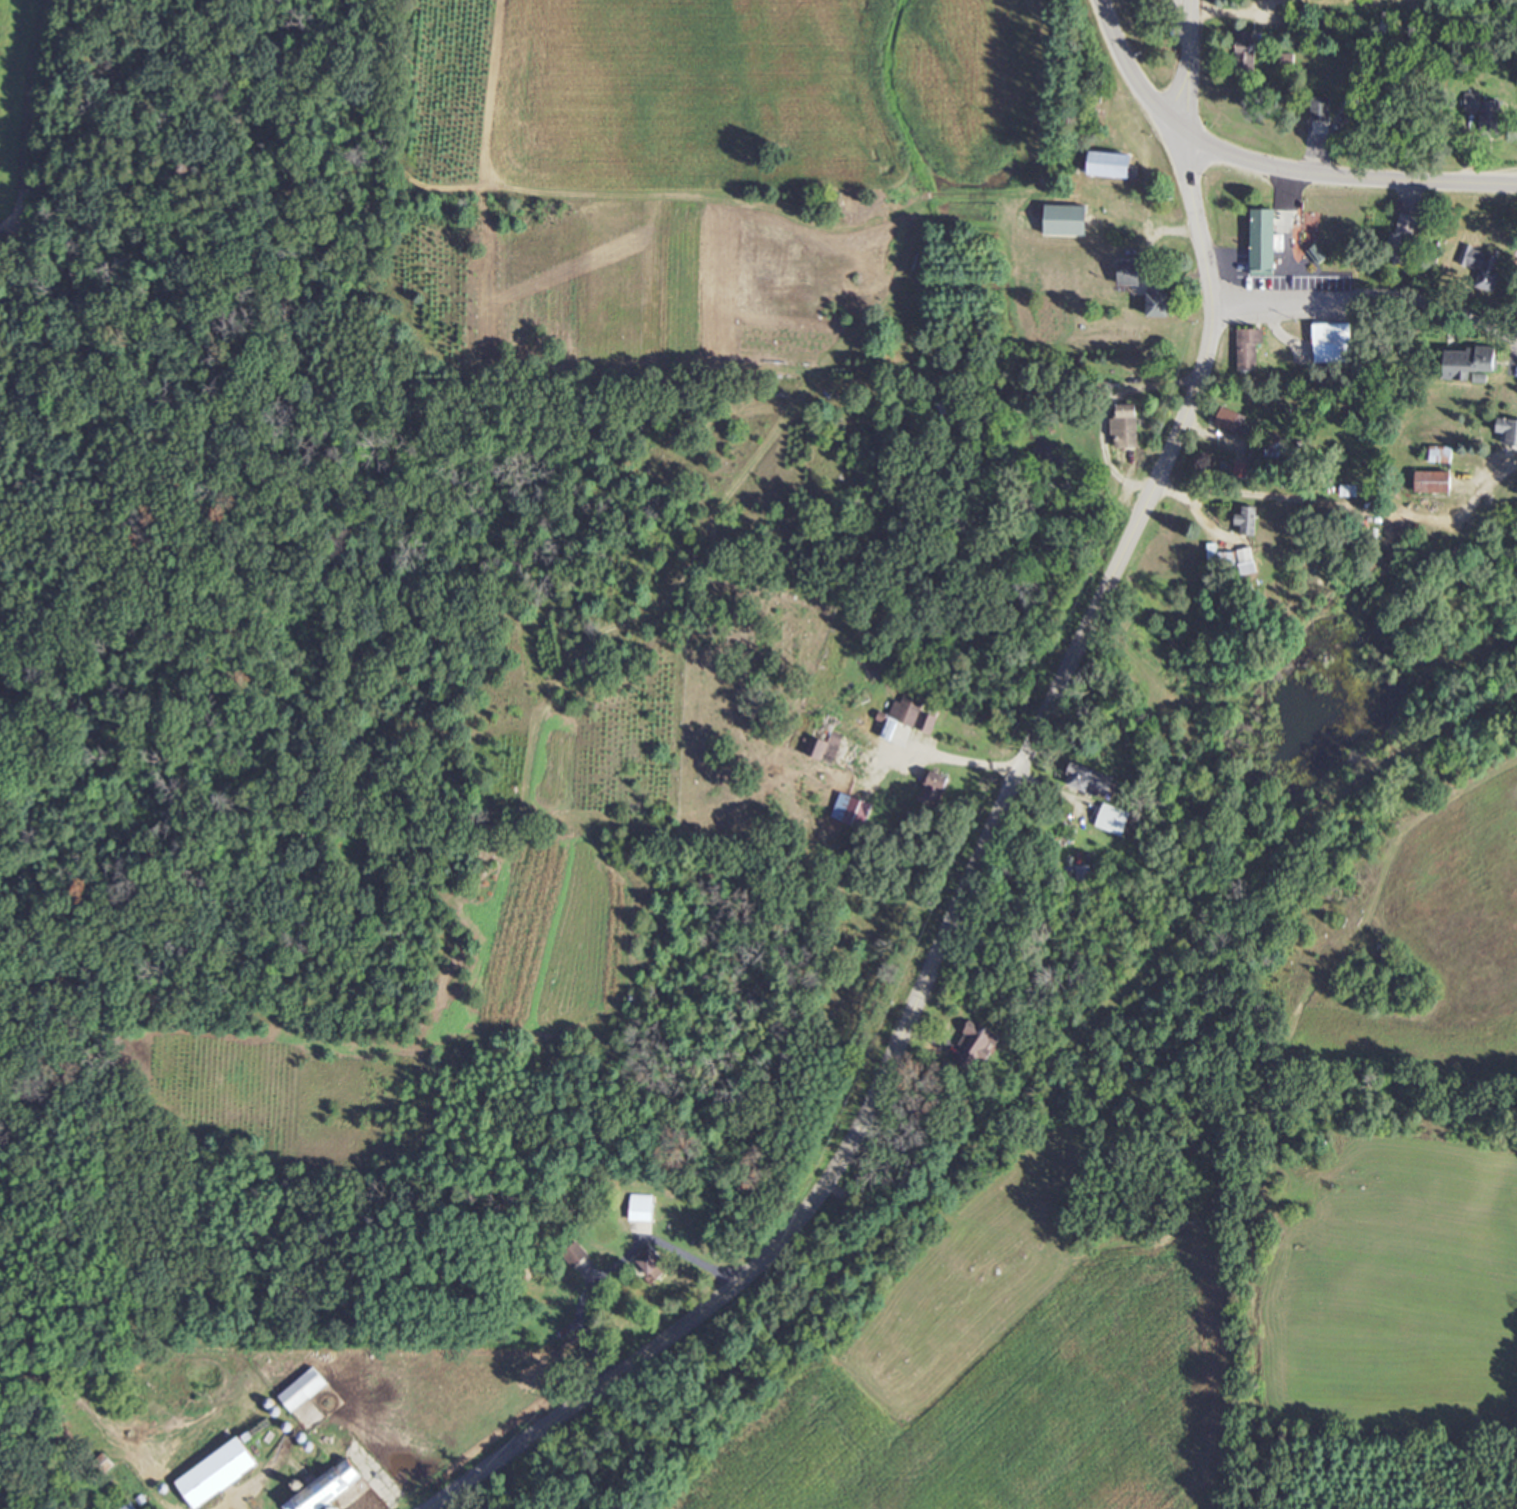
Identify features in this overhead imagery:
building: (1242, 50)
building: (1284, 59)
road: (1187, 66)
road: (1127, 73)
building: (1481, 109)
building: (1317, 110)
building: (1107, 166)
road: (1344, 177)
building: (1062, 221)
building: (1400, 239)
building: (1260, 242)
building: (1478, 266)
building: (1126, 272)
road: (1366, 291)
building: (1155, 301)
building: (1330, 344)
building: (1246, 349)
building: (1465, 362)
building: (939, 412)
building: (1225, 420)
building: (1122, 426)
building: (1507, 432)
building: (1437, 455)
building: (1430, 483)
building: (1244, 521)
building: (909, 713)
building: (1088, 782)
building: (930, 788)
building: (853, 814)
building: (1110, 820)
road: (957, 901)
building: (975, 1041)
road: (1036, 1070)
building: (638, 1208)
building: (649, 1263)
building: (299, 1390)
building: (214, 1473)
building: (323, 1488)

